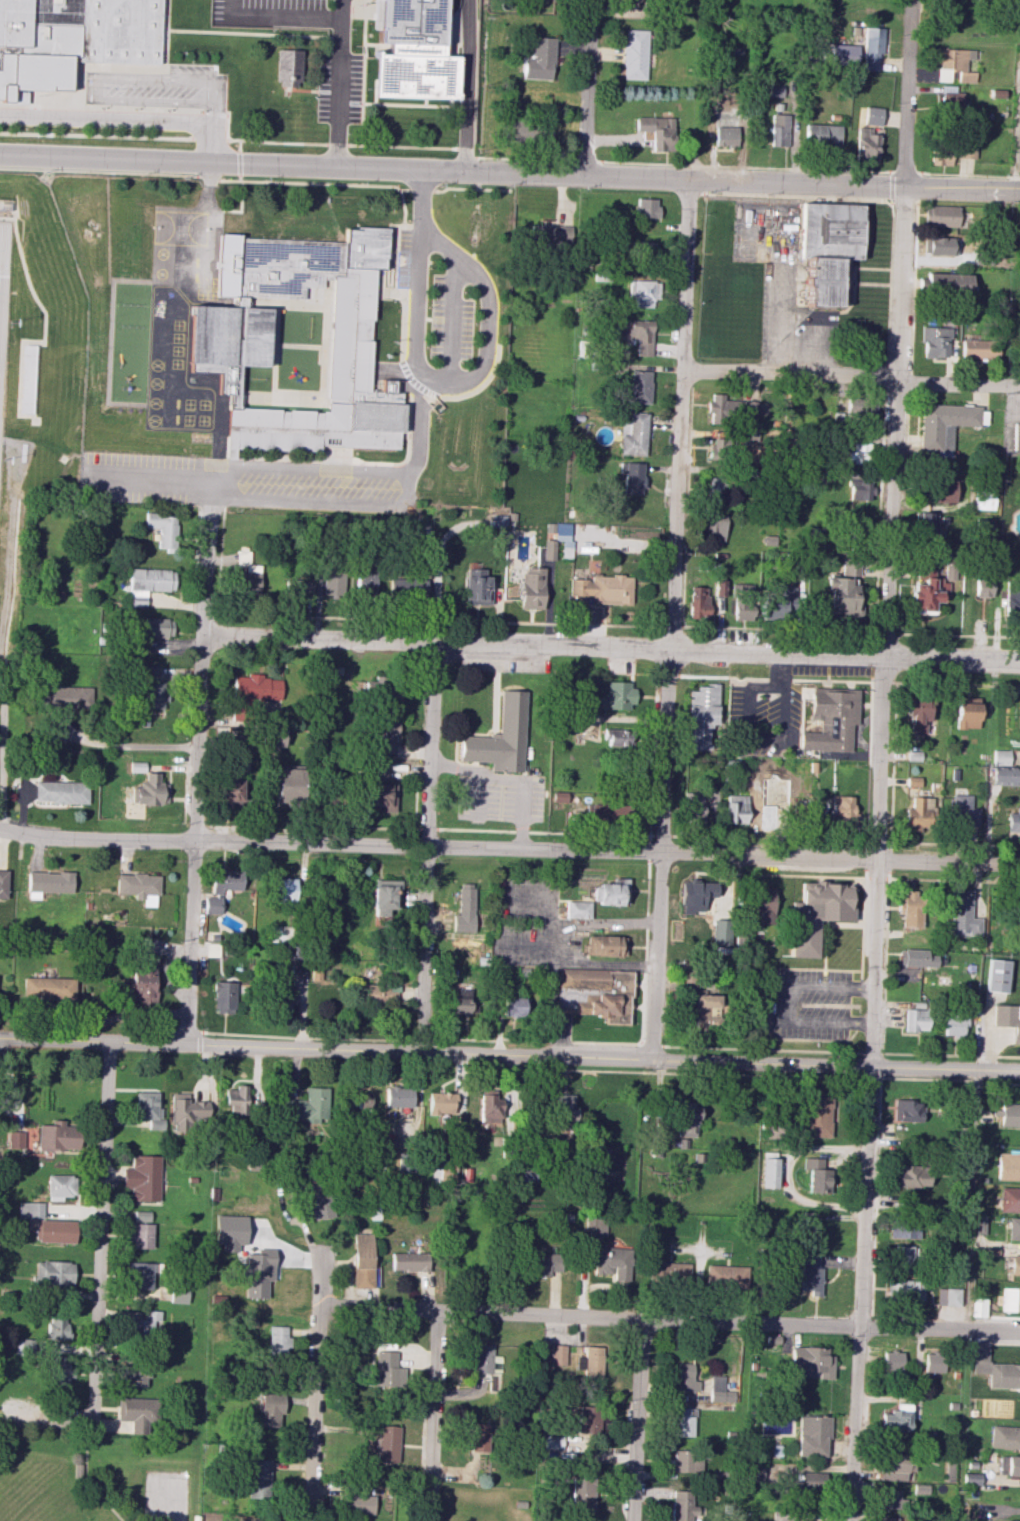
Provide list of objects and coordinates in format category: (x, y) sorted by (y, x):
parking lot: (270, 13)
road: (279, 17)
building: (89, 27)
road: (178, 31)
building: (872, 47)
building: (414, 49)
road: (49, 51)
building: (636, 54)
building: (539, 59)
building: (953, 64)
building: (290, 67)
road: (76, 68)
road: (340, 83)
road: (468, 85)
road: (587, 87)
parking lot: (339, 88)
building: (954, 101)
road: (113, 108)
building: (873, 115)
road: (126, 119)
building: (780, 129)
building: (530, 130)
building: (657, 131)
building: (728, 133)
building: (822, 134)
road: (96, 135)
parking lot: (82, 136)
road: (209, 139)
road: (293, 143)
building: (866, 145)
road: (232, 146)
building: (965, 149)
road: (403, 152)
road: (57, 153)
building: (939, 155)
road: (238, 166)
road: (509, 172)
road: (891, 172)
road: (109, 173)
road: (401, 174)
road: (971, 175)
road: (209, 182)
road: (315, 184)
road: (841, 199)
road: (917, 201)
building: (646, 207)
building: (944, 216)
road: (1, 232)
building: (550, 235)
building: (830, 247)
building: (645, 249)
parking lot: (404, 260)
road: (419, 264)
road: (28, 275)
road: (853, 276)
building: (948, 283)
parking lot: (782, 285)
road: (2, 289)
road: (913, 289)
building: (643, 292)
road: (851, 303)
road: (452, 319)
parking lot: (450, 322)
road: (488, 323)
road: (888, 324)
road: (899, 329)
building: (634, 333)
building: (231, 336)
building: (935, 342)
building: (973, 349)
road: (801, 364)
road: (850, 376)
road: (885, 382)
building: (639, 387)
building: (721, 407)
building: (749, 407)
road: (18, 416)
road: (679, 416)
building: (945, 425)
road: (422, 428)
road: (906, 429)
building: (634, 435)
building: (1016, 437)
building: (717, 448)
building: (859, 453)
road: (217, 455)
road: (314, 472)
building: (632, 477)
road: (156, 478)
parking lot: (242, 483)
building: (714, 489)
building: (860, 489)
building: (944, 489)
building: (983, 503)
road: (323, 504)
road: (880, 510)
building: (712, 526)
building: (1017, 526)
road: (10, 527)
building: (985, 528)
building: (163, 529)
building: (812, 536)
building: (565, 542)
building: (549, 549)
building: (950, 571)
road: (210, 573)
building: (247, 574)
building: (365, 582)
building: (148, 583)
building: (332, 583)
building: (476, 586)
building: (297, 587)
building: (532, 587)
building: (720, 587)
building: (983, 587)
building: (407, 588)
building: (927, 589)
building: (599, 590)
building: (843, 590)
road: (683, 601)
building: (743, 601)
building: (698, 602)
building: (1010, 603)
building: (776, 606)
road: (387, 619)
building: (154, 627)
road: (674, 627)
road: (959, 634)
road: (874, 644)
road: (613, 650)
road: (848, 681)
building: (151, 687)
building: (256, 688)
building: (386, 688)
building: (617, 695)
building: (66, 697)
building: (918, 713)
building: (514, 715)
building: (702, 715)
building: (966, 715)
building: (831, 720)
building: (385, 736)
building: (616, 737)
building: (274, 738)
road: (129, 746)
road: (4, 751)
building: (1000, 756)
building: (1005, 776)
road: (511, 778)
building: (912, 781)
building: (289, 787)
building: (149, 790)
building: (60, 792)
building: (233, 792)
parking lot: (498, 795)
building: (381, 796)
road: (480, 796)
building: (712, 797)
building: (560, 804)
building: (693, 807)
building: (736, 809)
building: (841, 809)
building: (605, 811)
building: (963, 811)
building: (917, 814)
building: (1013, 820)
road: (889, 828)
road: (194, 838)
road: (426, 848)
road: (509, 850)
road: (660, 855)
building: (225, 880)
building: (48, 882)
building: (3, 883)
building: (138, 887)
building: (283, 890)
building: (610, 892)
building: (384, 895)
building: (695, 895)
building: (212, 905)
building: (761, 908)
building: (910, 908)
building: (464, 909)
building: (577, 909)
building: (962, 913)
building: (816, 914)
building: (720, 932)
building: (277, 933)
building: (605, 945)
building: (916, 958)
building: (315, 972)
building: (996, 975)
building: (141, 982)
building: (48, 988)
building: (379, 992)
building: (596, 993)
building: (223, 997)
building: (284, 997)
building: (462, 1002)
road: (786, 1004)
parking lot: (809, 1005)
building: (514, 1006)
building: (705, 1010)
building: (1007, 1018)
building: (915, 1019)
building: (954, 1025)
road: (303, 1038)
road: (420, 1039)
road: (536, 1040)
road: (200, 1041)
road: (650, 1044)
road: (759, 1050)
road: (869, 1053)
road: (951, 1054)
road: (509, 1055)
road: (856, 1064)
road: (688, 1073)
road: (881, 1077)
road: (950, 1080)
road: (865, 1089)
building: (398, 1096)
building: (512, 1099)
building: (236, 1100)
building: (358, 1100)
building: (441, 1103)
building: (147, 1105)
building: (306, 1106)
building: (489, 1108)
building: (562, 1109)
building: (907, 1110)
building: (186, 1111)
building: (815, 1114)
building: (1009, 1115)
building: (687, 1119)
building: (58, 1136)
building: (15, 1139)
building: (1008, 1165)
building: (768, 1172)
building: (816, 1175)
building: (911, 1176)
building: (143, 1178)
building: (60, 1186)
road: (876, 1197)
building: (1009, 1199)
building: (319, 1200)
building: (30, 1209)
building: (808, 1223)
building: (594, 1225)
building: (979, 1225)
building: (902, 1228)
building: (1013, 1228)
building: (141, 1230)
building: (56, 1231)
building: (230, 1231)
road: (99, 1236)
building: (902, 1257)
building: (362, 1260)
building: (409, 1261)
building: (545, 1263)
building: (612, 1263)
building: (1015, 1264)
building: (54, 1272)
building: (257, 1272)
building: (668, 1272)
building: (810, 1272)
building: (140, 1275)
building: (726, 1275)
building: (904, 1290)
building: (179, 1293)
building: (948, 1297)
building: (1010, 1299)
road: (670, 1318)
building: (144, 1324)
building: (57, 1327)
building: (277, 1340)
building: (22, 1346)
building: (557, 1354)
building: (481, 1360)
building: (892, 1360)
building: (590, 1362)
building: (810, 1362)
building: (933, 1362)
building: (383, 1368)
building: (994, 1368)
building: (59, 1372)
building: (133, 1375)
building: (685, 1379)
building: (720, 1389)
road: (317, 1390)
building: (270, 1409)
building: (136, 1412)
road: (433, 1417)
building: (897, 1418)
road: (636, 1419)
building: (684, 1422)
building: (583, 1424)
building: (812, 1435)
building: (479, 1437)
building: (1005, 1437)
building: (386, 1444)
building: (686, 1460)
building: (1009, 1465)
building: (895, 1466)
building: (971, 1478)
park: (100, 1479)
building: (258, 1479)
road: (87, 1484)
building: (582, 1494)
building: (891, 1499)
building: (357, 1501)
road: (167, 1503)
building: (682, 1505)
building: (783, 1516)
building: (888, 1518)
building: (1015, 1520)

